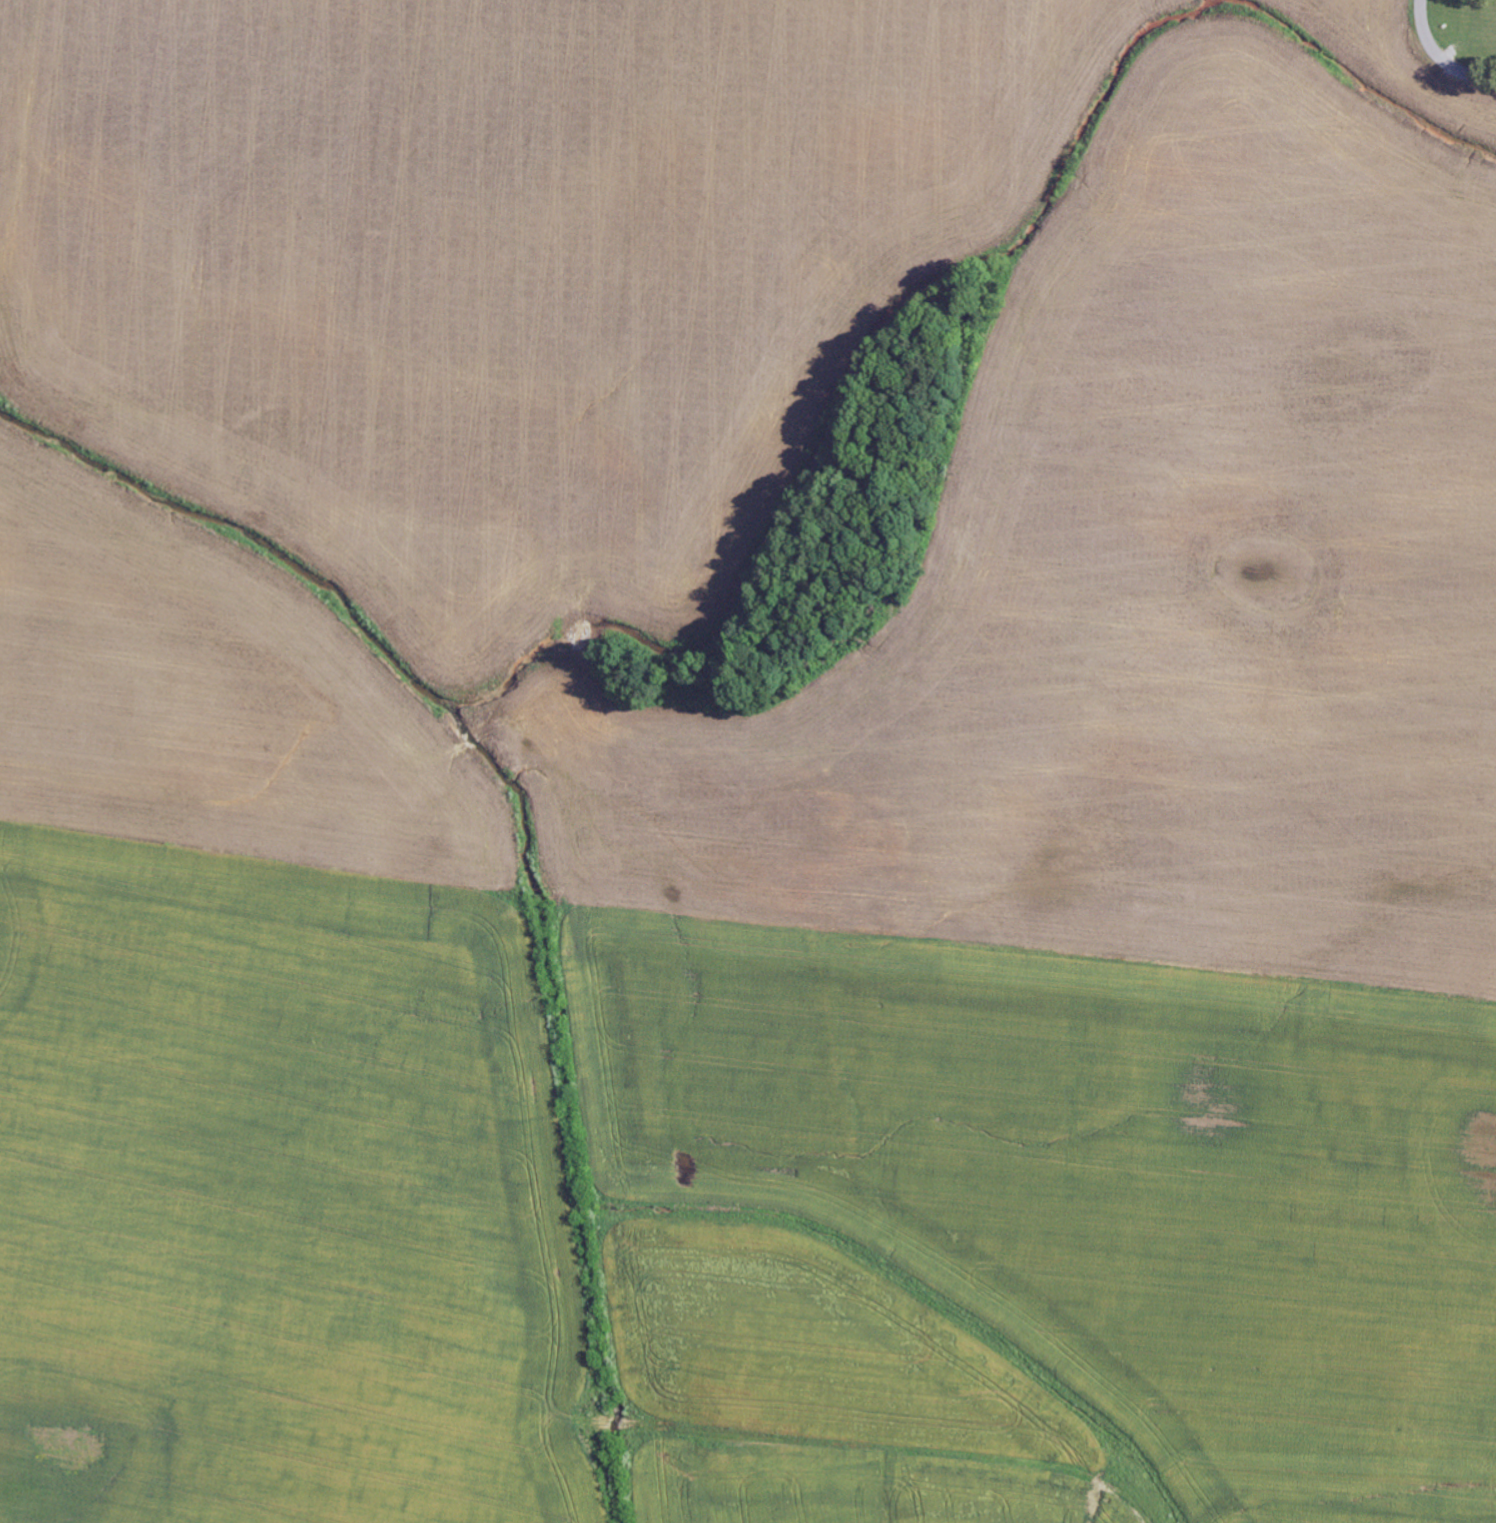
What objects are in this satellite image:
road: (1440, 56)

